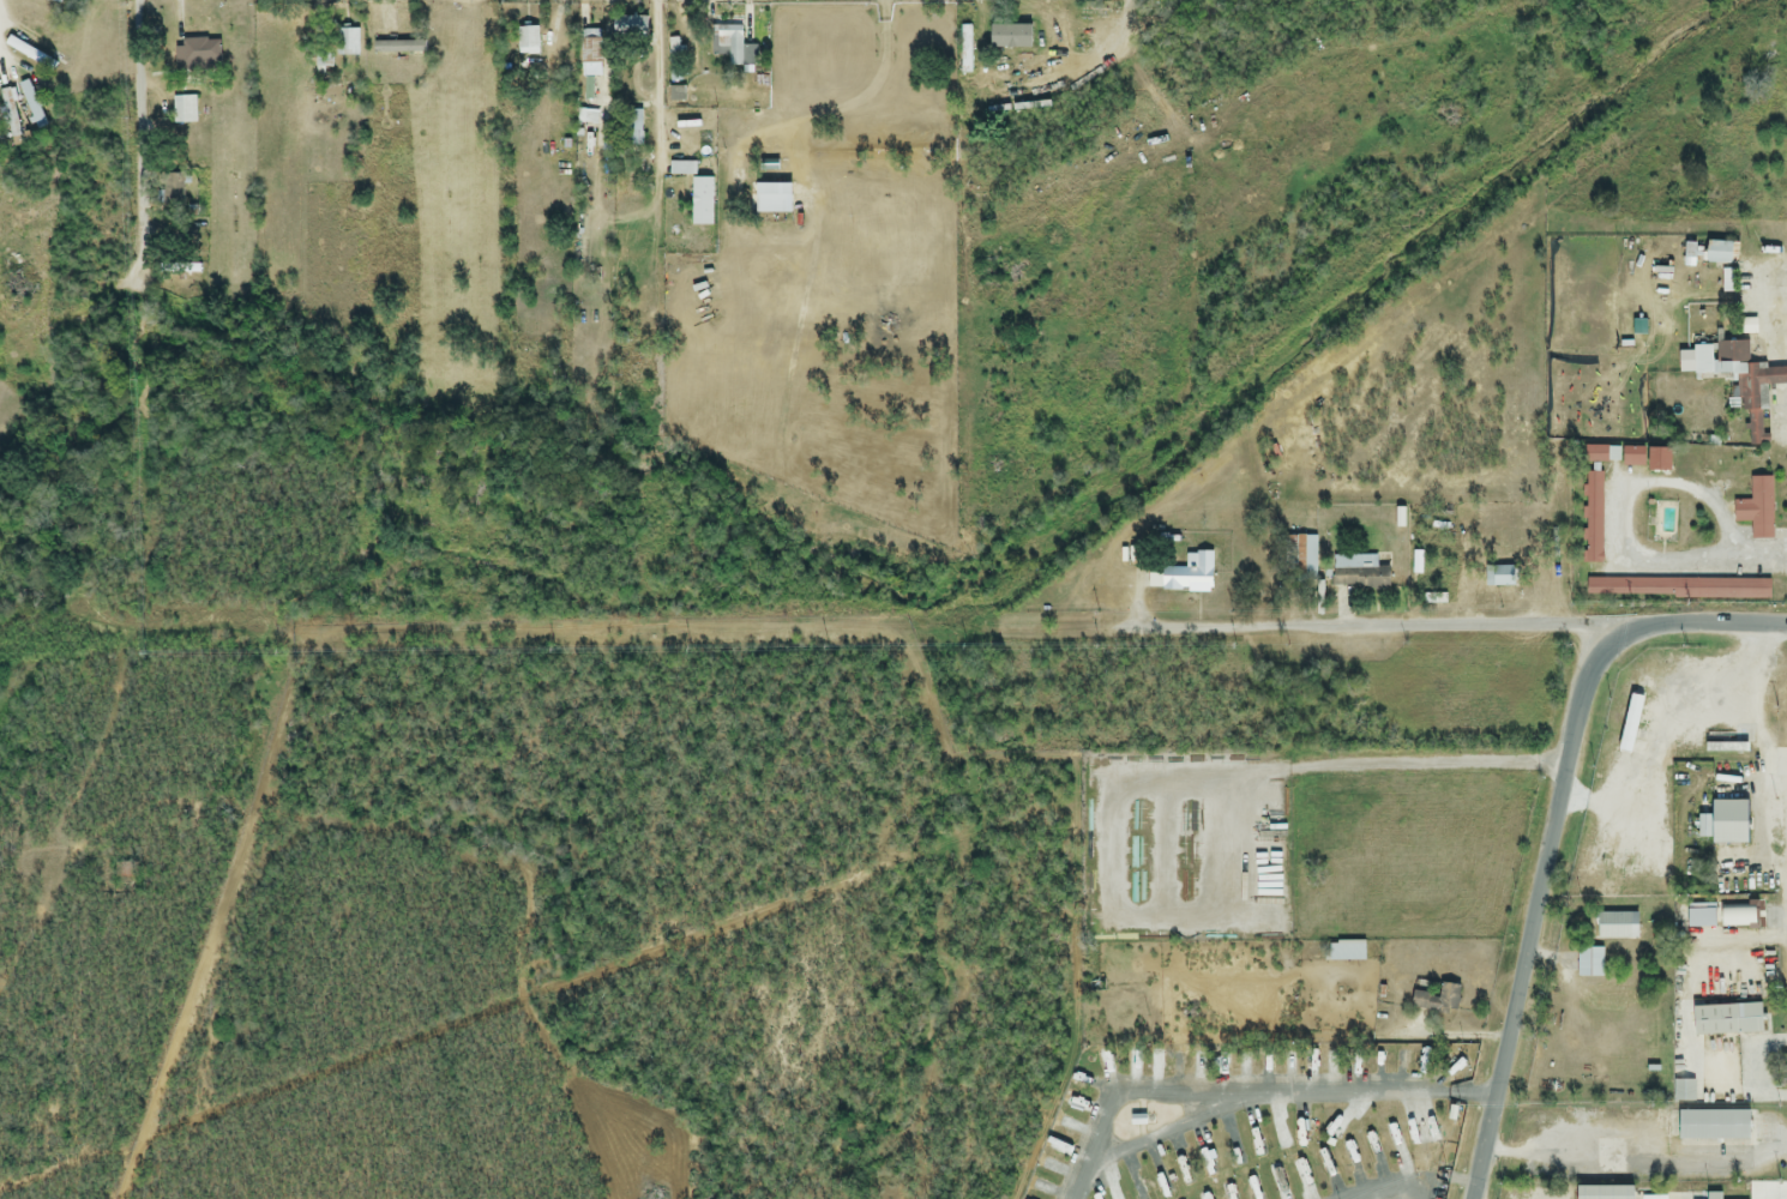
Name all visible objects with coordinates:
building: (53, 1)
building: (44, 28)
building: (630, 28)
building: (775, 31)
building: (528, 41)
building: (345, 42)
building: (736, 43)
building: (408, 49)
building: (598, 49)
building: (965, 49)
building: (198, 54)
building: (676, 56)
building: (38, 60)
road: (660, 86)
building: (31, 104)
building: (185, 109)
building: (10, 114)
building: (172, 189)
building: (702, 201)
road: (132, 230)
building: (1719, 253)
building: (1741, 380)
building: (1595, 454)
building: (1635, 454)
building: (1756, 508)
building: (1593, 517)
building: (1305, 559)
building: (1358, 573)
building: (1189, 577)
building: (1498, 577)
building: (1752, 590)
road: (1388, 625)
building: (1654, 691)
road: (1390, 767)
building: (1727, 823)
road: (1554, 830)
building: (1735, 916)
building: (1614, 927)
building: (1343, 952)
building: (1589, 963)
building: (1436, 1000)
building: (1725, 1020)
building: (1683, 1091)
road: (1249, 1095)
building: (1711, 1126)
road: (1161, 1138)
road: (60, 1181)
road: (1395, 1192)
building: (1602, 1193)
building: (1713, 1195)

